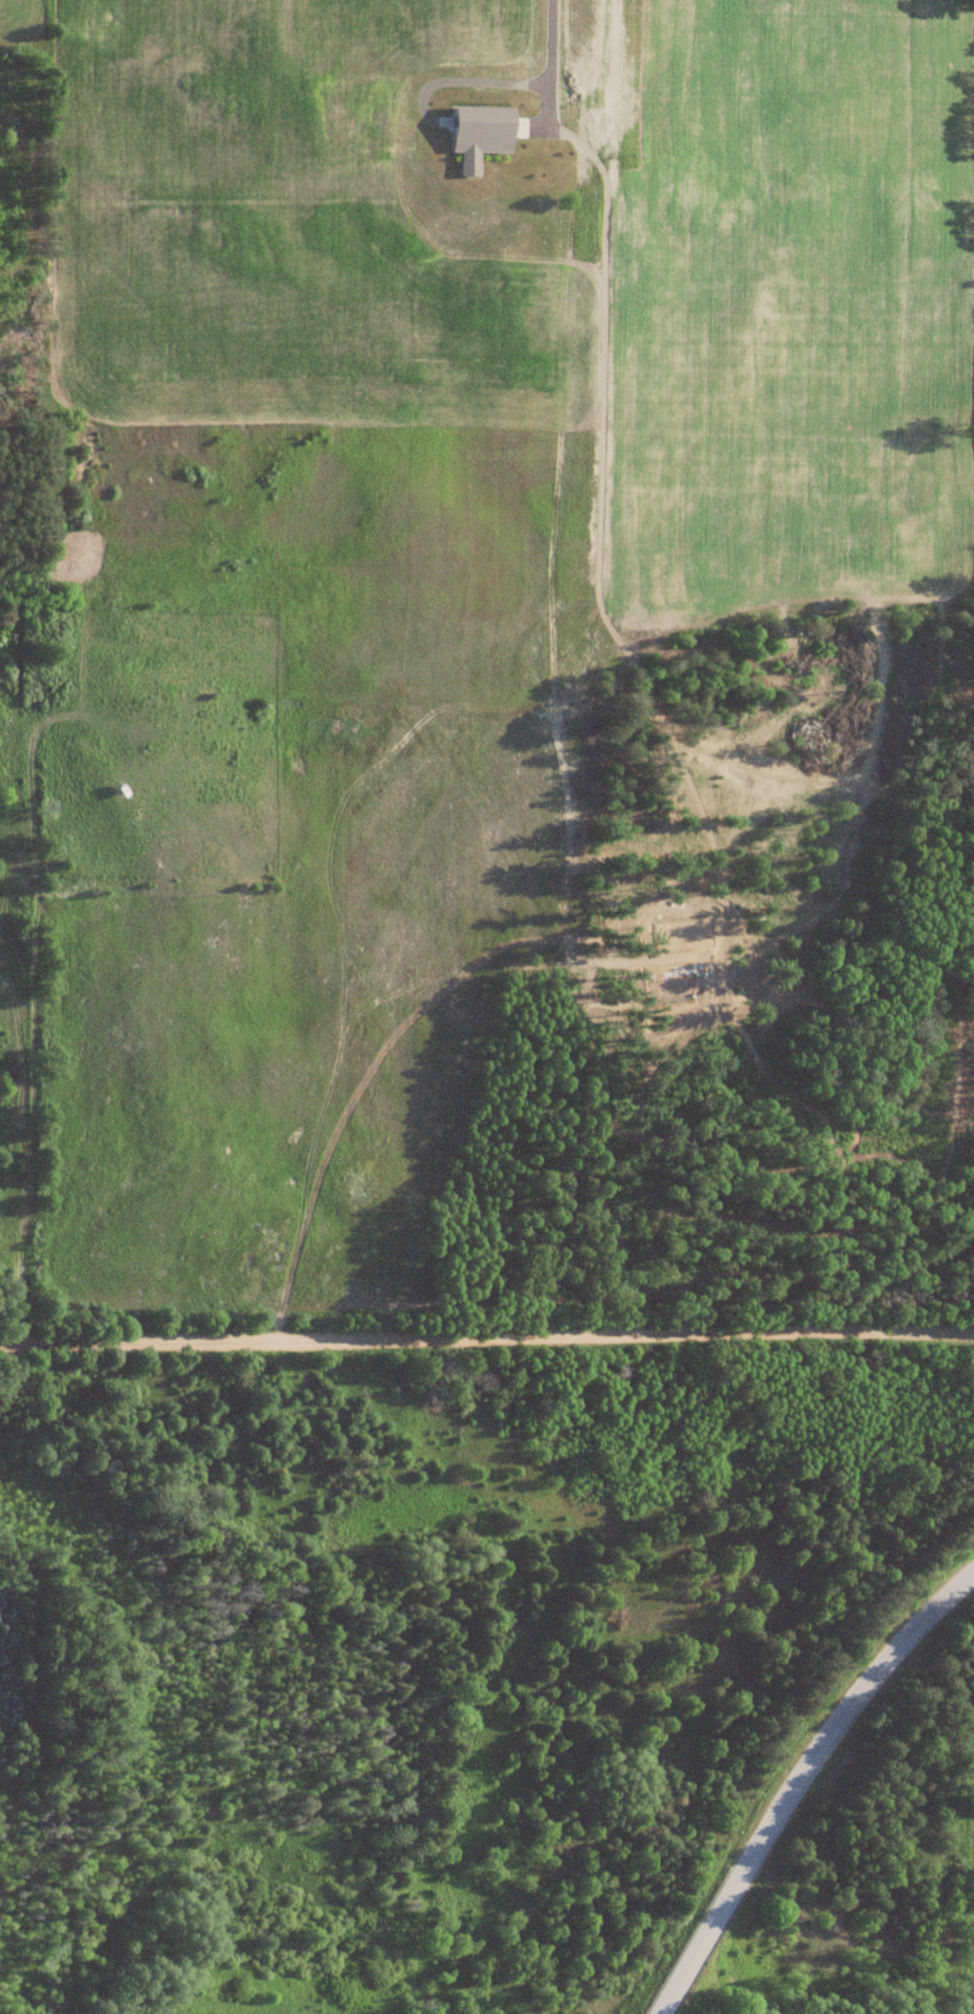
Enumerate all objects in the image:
building: (540, 664)
road: (487, 1336)
road: (793, 1777)

